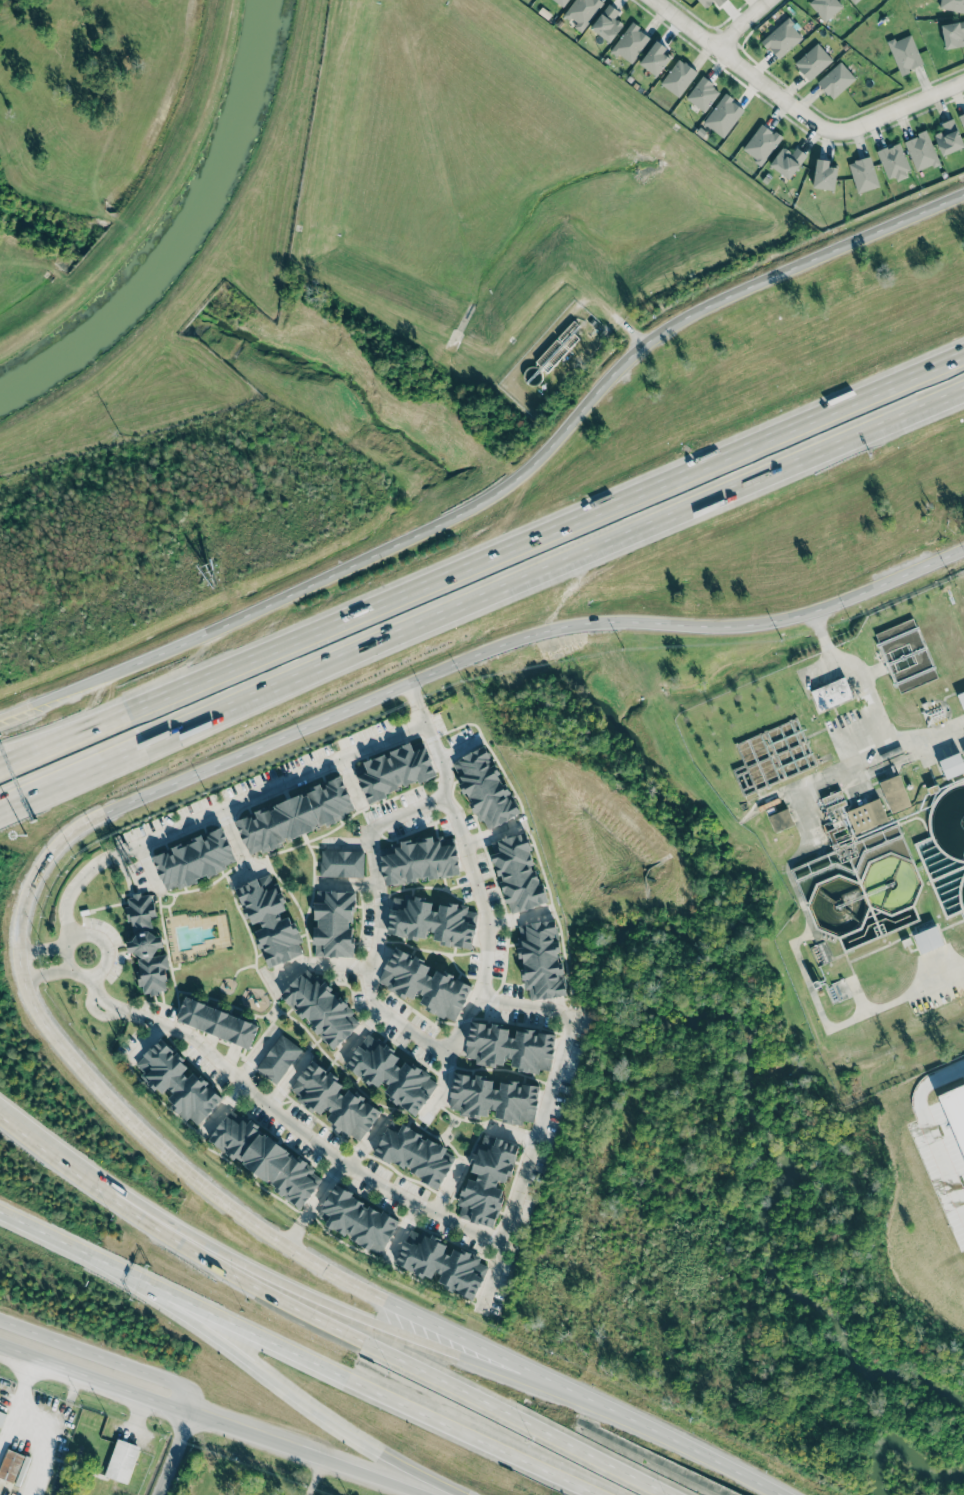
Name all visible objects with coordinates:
building: (854, 1)
building: (561, 2)
building: (705, 4)
building: (952, 5)
building: (825, 7)
building: (582, 11)
building: (607, 23)
road: (743, 25)
building: (953, 34)
building: (782, 38)
building: (630, 42)
building: (905, 53)
building: (655, 57)
building: (812, 61)
road: (739, 68)
building: (678, 77)
building: (835, 80)
building: (702, 94)
road: (898, 107)
building: (722, 115)
building: (962, 119)
building: (948, 137)
building: (761, 143)
building: (921, 151)
building: (787, 161)
building: (893, 161)
building: (863, 174)
building: (824, 175)
road: (503, 487)
road: (583, 521)
road: (718, 544)
road: (523, 585)
road: (765, 622)
building: (906, 655)
road: (816, 666)
building: (832, 694)
road: (413, 695)
building: (961, 698)
road: (101, 717)
road: (324, 717)
road: (101, 729)
road: (929, 737)
road: (891, 747)
building: (952, 765)
building: (394, 771)
road: (349, 780)
road: (40, 787)
building: (484, 787)
road: (265, 788)
road: (40, 792)
building: (894, 793)
building: (867, 815)
building: (296, 816)
building: (781, 821)
wastewater plant: (855, 821)
road: (491, 834)
road: (234, 840)
wastewater plant: (946, 848)
building: (195, 859)
building: (419, 861)
building: (341, 863)
road: (146, 867)
building: (518, 874)
road: (69, 889)
wastewater plant: (867, 902)
road: (482, 903)
road: (517, 917)
building: (270, 920)
building: (432, 921)
building: (334, 923)
building: (928, 940)
building: (146, 945)
road: (377, 946)
road: (42, 948)
building: (541, 960)
road: (318, 963)
road: (72, 969)
road: (47, 974)
building: (424, 985)
road: (815, 998)
road: (103, 999)
building: (320, 1008)
road: (95, 1010)
building: (217, 1022)
road: (145, 1042)
building: (509, 1047)
road: (255, 1053)
building: (278, 1059)
building: (391, 1074)
road: (287, 1080)
building: (177, 1082)
building: (493, 1099)
building: (335, 1102)
road: (224, 1108)
road: (510, 1134)
road: (309, 1137)
road: (367, 1142)
building: (414, 1153)
building: (265, 1158)
road: (188, 1173)
road: (524, 1174)
building: (486, 1180)
road: (447, 1187)
road: (321, 1193)
building: (358, 1220)
road: (293, 1235)
road: (53, 1239)
building: (441, 1264)
road: (328, 1314)
road: (414, 1339)
road: (102, 1356)
road: (94, 1376)
road: (353, 1380)
road: (278, 1383)
road: (27, 1395)
building: (2, 1418)
road: (680, 1445)
road: (172, 1452)
road: (308, 1452)
building: (122, 1461)
building: (12, 1465)

